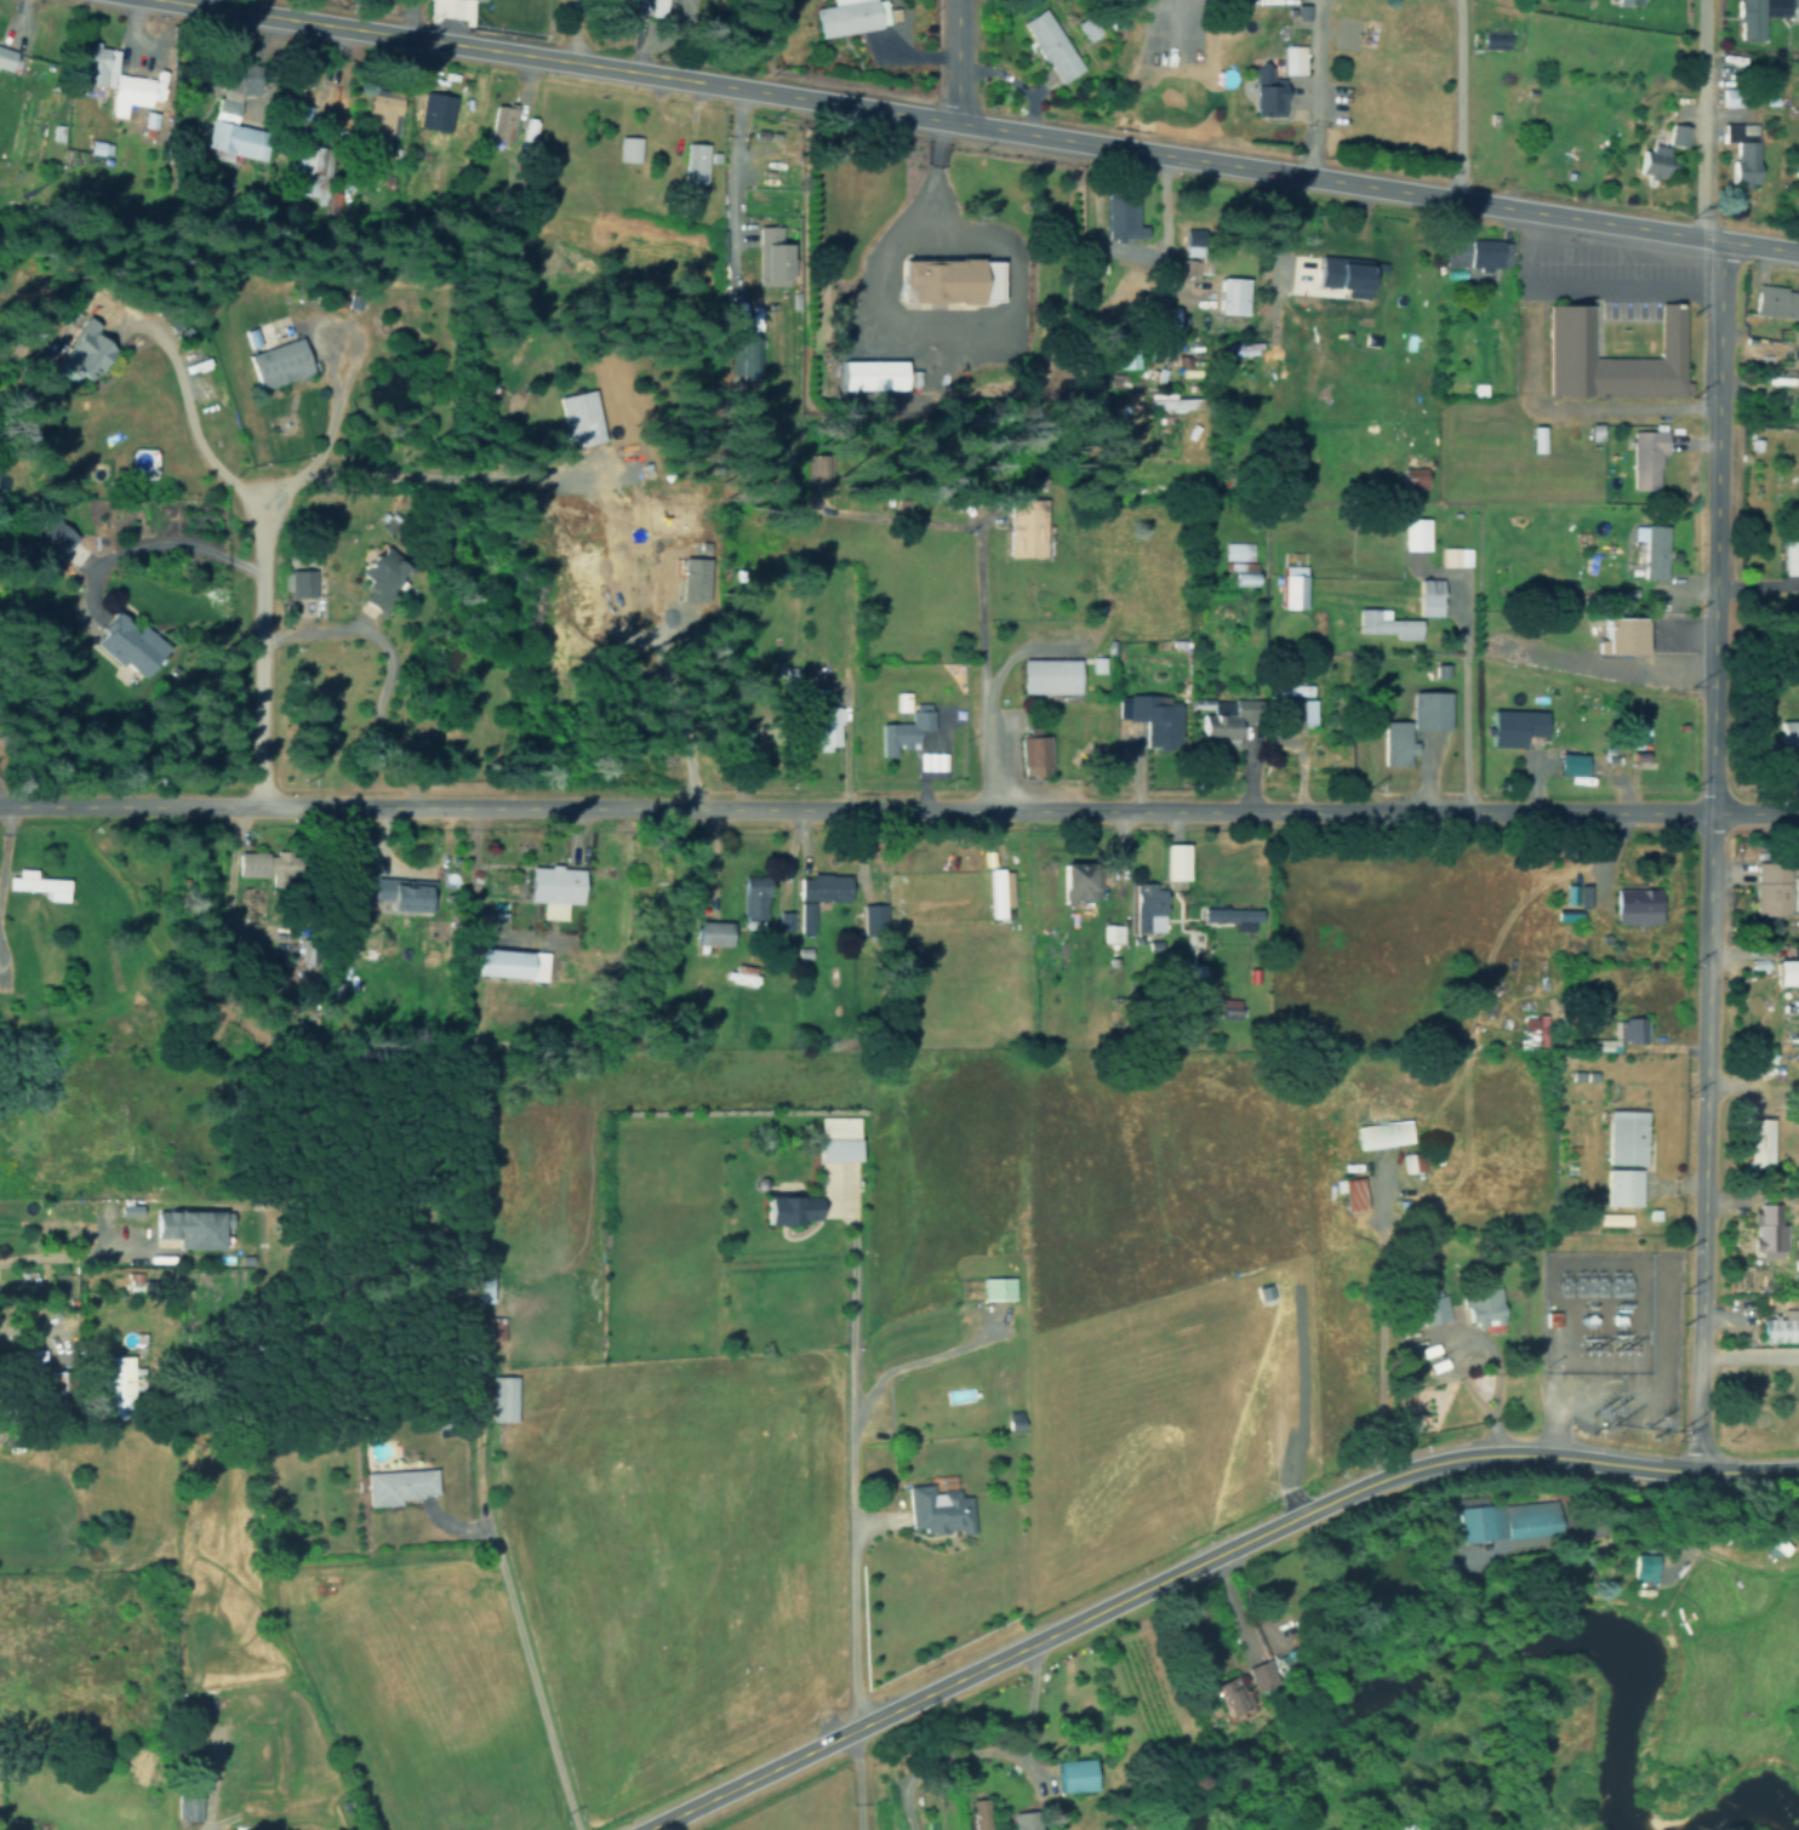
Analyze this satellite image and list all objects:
building: (467, 1)
building: (1627, 2)
building: (646, 5)
building: (1297, 10)
building: (1791, 11)
building: (850, 16)
building: (1749, 18)
road: (572, 29)
building: (1049, 45)
building: (5, 57)
building: (1287, 57)
road: (956, 61)
building: (92, 65)
building: (1263, 87)
road: (1309, 88)
building: (126, 91)
road: (1456, 101)
building: (381, 109)
building: (433, 109)
building: (232, 111)
building: (498, 122)
road: (986, 125)
building: (1677, 135)
building: (1736, 135)
building: (626, 147)
building: (690, 161)
building: (1650, 161)
building: (301, 165)
building: (326, 200)
road: (930, 204)
building: (1123, 210)
road: (1666, 241)
road: (1623, 247)
building: (1475, 253)
building: (767, 256)
road: (1664, 265)
building: (1342, 275)
road: (1623, 281)
building: (947, 282)
building: (1233, 296)
building: (1772, 299)
road: (927, 345)
road: (354, 350)
building: (80, 351)
building: (741, 358)
building: (1618, 359)
building: (276, 362)
building: (868, 374)
road: (1536, 399)
building: (1177, 401)
building: (1795, 410)
road: (188, 416)
building: (578, 417)
building: (1534, 439)
building: (1645, 458)
road: (433, 476)
building: (1420, 514)
building: (1024, 527)
building: (52, 542)
building: (1650, 550)
building: (1788, 551)
building: (1455, 556)
building: (1247, 565)
building: (377, 578)
building: (693, 578)
building: (297, 583)
building: (1291, 587)
building: (1428, 596)
building: (1386, 624)
building: (1618, 636)
building: (126, 645)
road: (258, 645)
road: (978, 662)
building: (1052, 675)
building: (1429, 710)
building: (1301, 714)
building: (1152, 719)
building: (1224, 721)
building: (824, 727)
building: (1523, 728)
building: (903, 730)
road: (1708, 732)
building: (1395, 743)
building: (1787, 747)
building: (1034, 755)
building: (1569, 764)
road: (898, 805)
road: (4, 831)
building: (1173, 862)
building: (259, 864)
building: (1076, 881)
building: (34, 883)
building: (553, 890)
building: (998, 891)
building: (1582, 891)
building: (1772, 892)
building: (818, 894)
building: (753, 902)
building: (1633, 905)
building: (1147, 908)
building: (1230, 916)
building: (873, 919)
building: (712, 933)
building: (1110, 933)
building: (510, 965)
building: (1787, 971)
building: (1531, 1029)
building: (1617, 1035)
building: (1572, 1074)
building: (1588, 1075)
road: (1751, 1082)
building: (1373, 1122)
building: (1381, 1134)
building: (836, 1138)
building: (1754, 1143)
building: (1614, 1146)
building: (1570, 1149)
building: (1399, 1153)
building: (1350, 1193)
building: (789, 1208)
building: (1760, 1222)
building: (190, 1226)
road: (63, 1256)
building: (1418, 1276)
building: (987, 1279)
building: (476, 1287)
building: (1473, 1291)
crop: (1153, 1299)
building: (1433, 1309)
power substation: (1592, 1313)
building: (1777, 1313)
building: (1420, 1342)
building: (1433, 1356)
building: (118, 1385)
building: (502, 1399)
crop: (652, 1441)
building: (396, 1486)
building: (918, 1496)
building: (1473, 1509)
building: (1521, 1512)
road: (1198, 1561)
building: (1643, 1567)
road: (516, 1646)
river: (1477, 1655)
building: (1256, 1668)
building: (1229, 1683)
crop: (424, 1692)
building: (1069, 1766)
building: (188, 1805)
building: (971, 1807)
river: (1742, 1808)
building: (1021, 1813)
road: (217, 1824)

